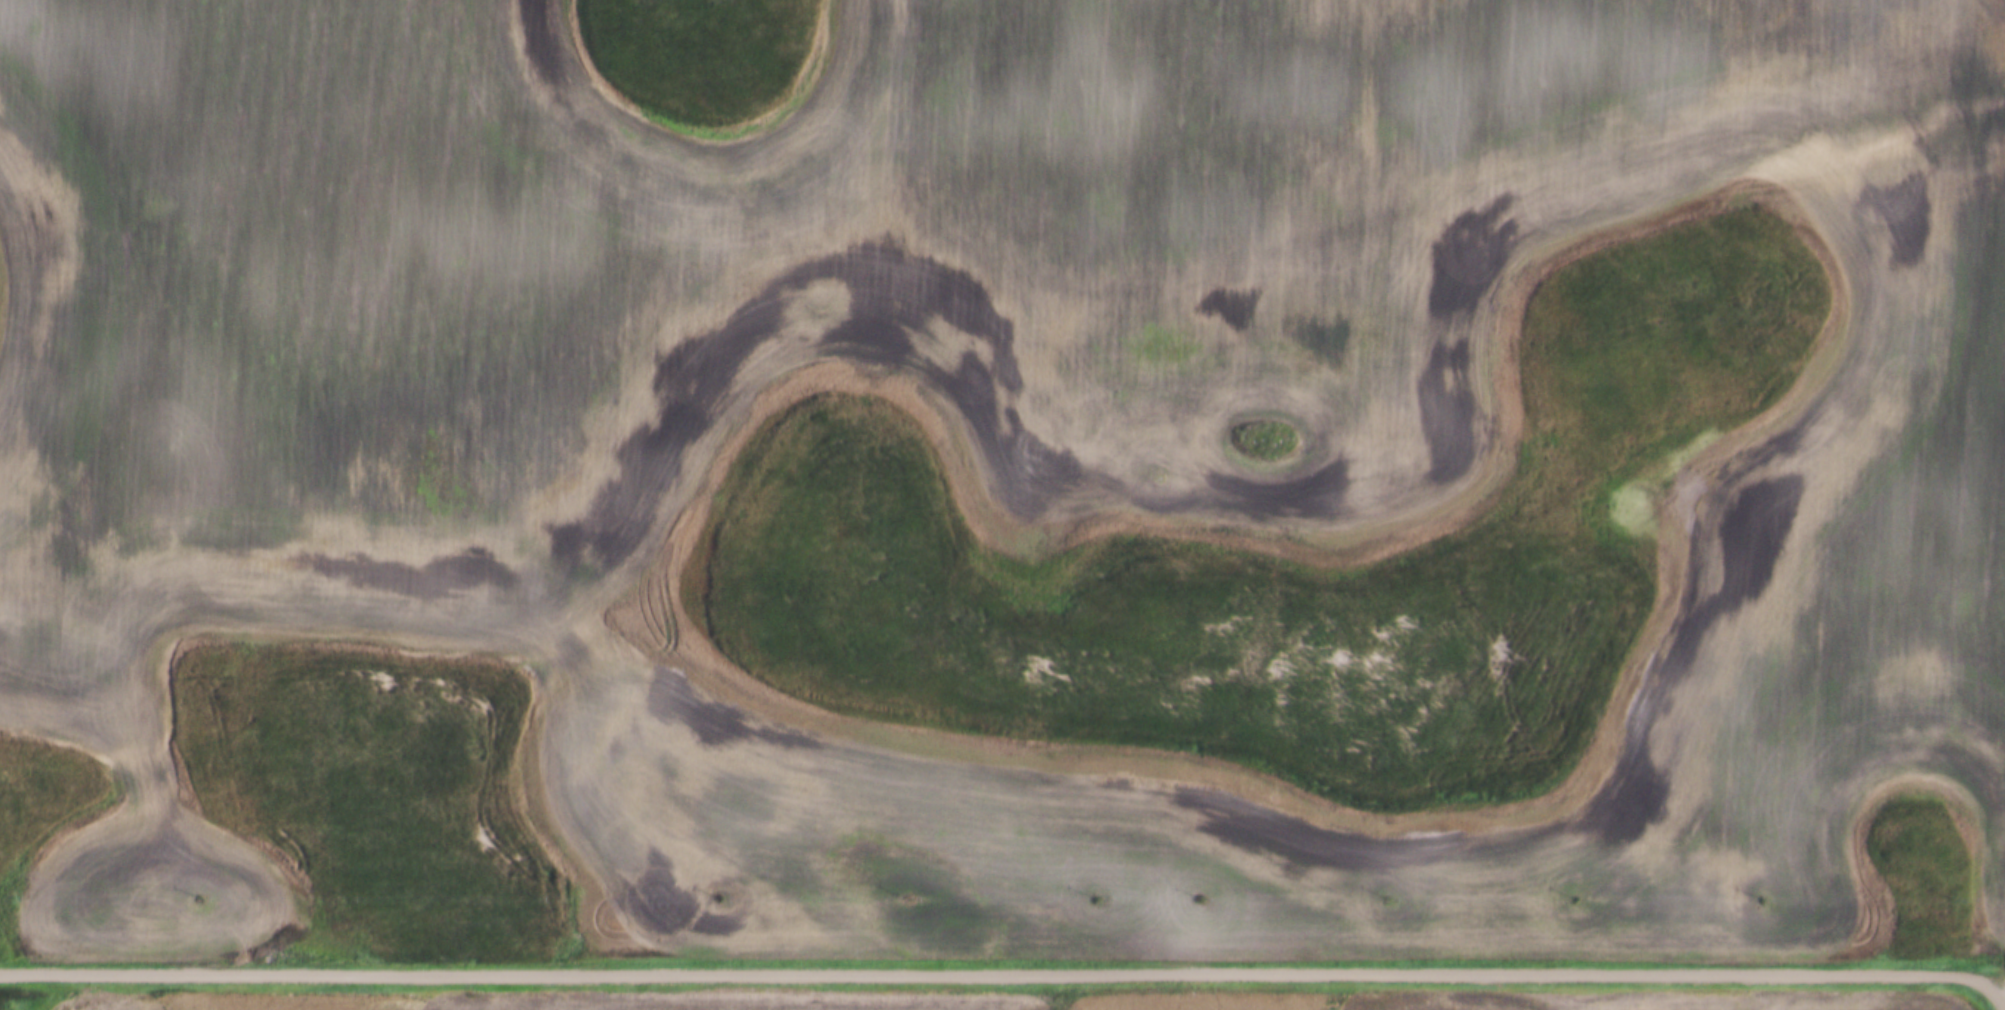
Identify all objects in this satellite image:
road: (991, 971)
road: (1993, 974)
road: (1995, 986)

